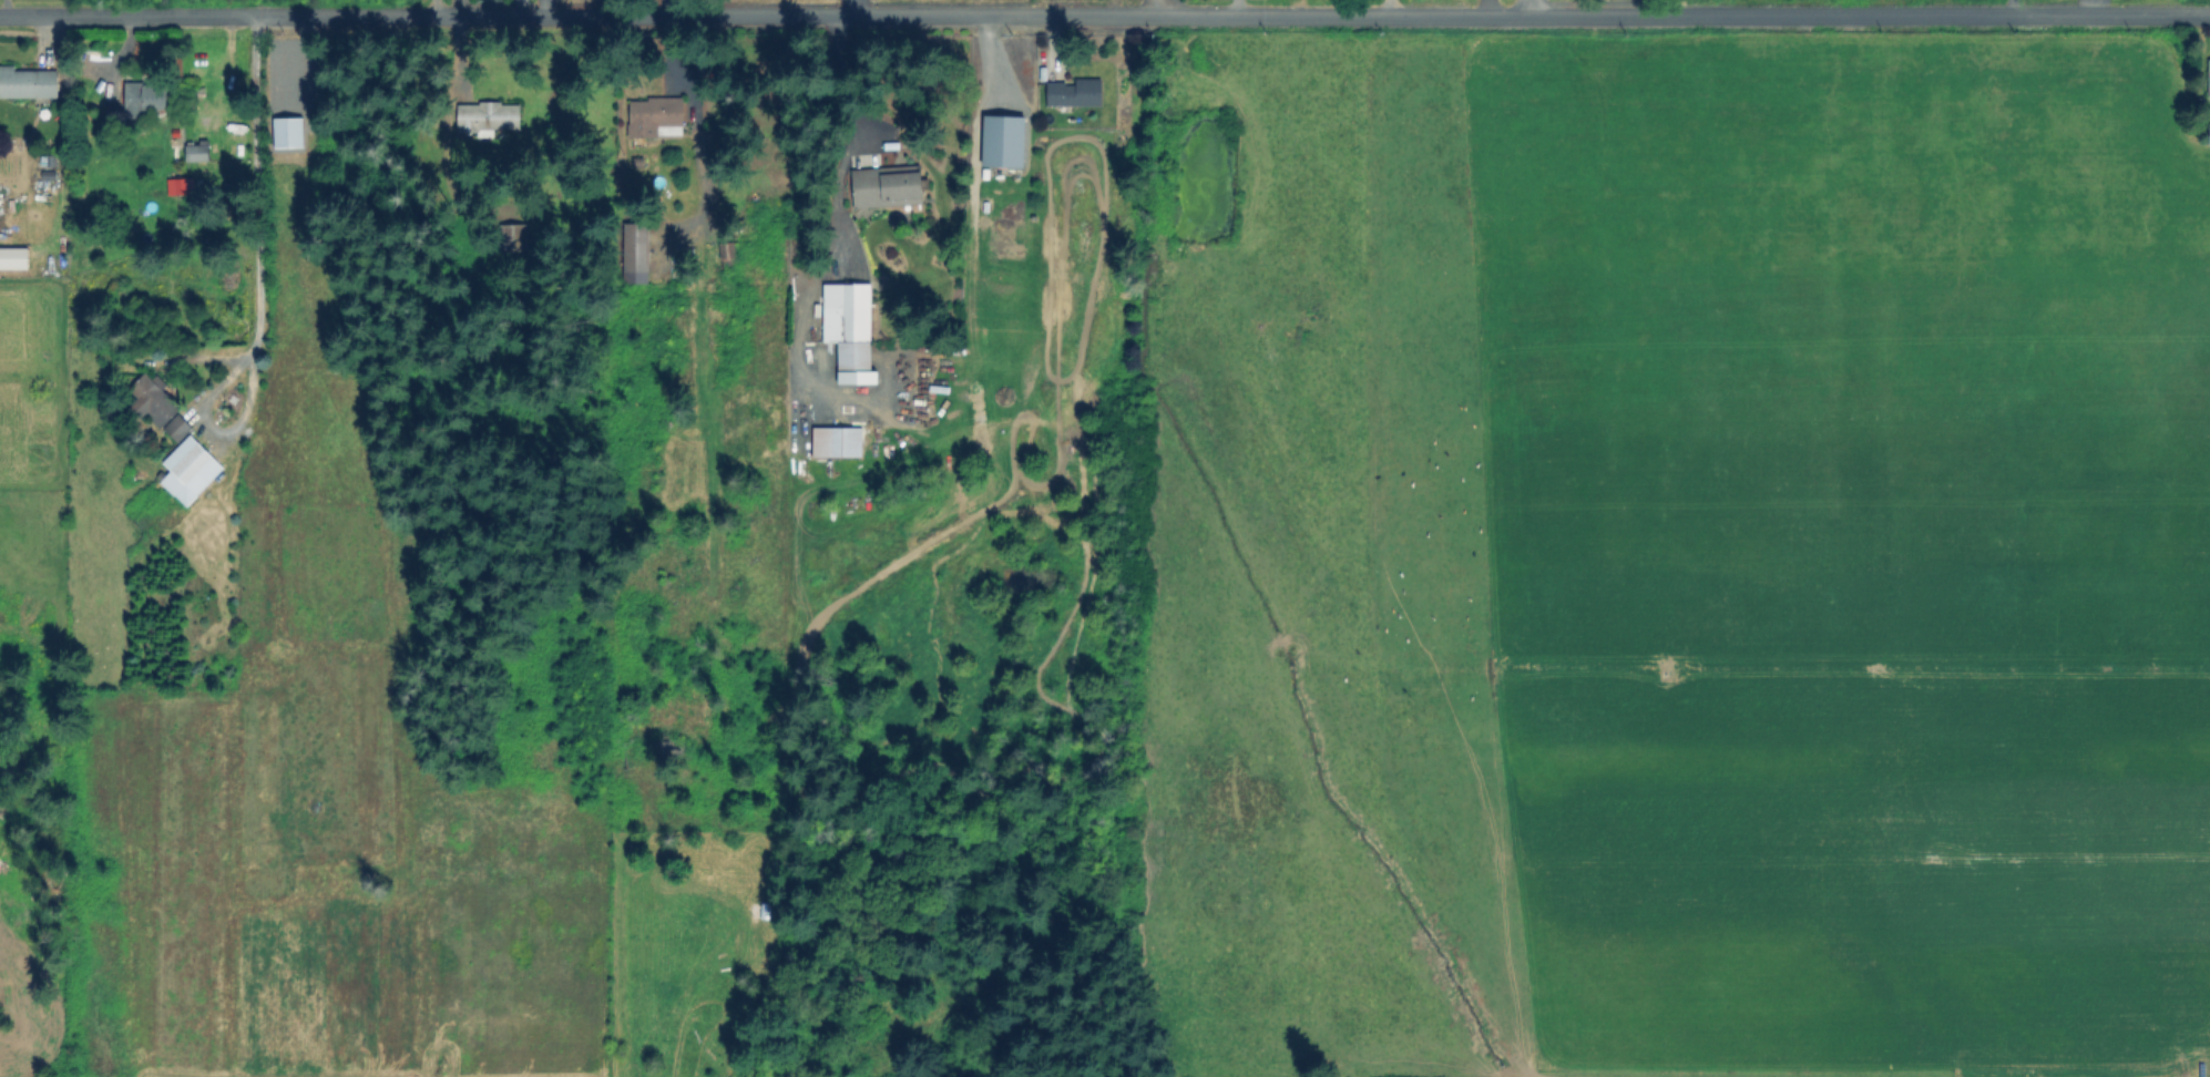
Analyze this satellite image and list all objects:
road: (432, 7)
road: (674, 7)
road: (837, 7)
road: (1140, 7)
road: (2011, 7)
road: (2088, 7)
road: (1389, 8)
road: (1536, 8)
road: (1105, 14)
building: (209, 72)
building: (2209, 72)
building: (29, 82)
building: (1078, 94)
building: (153, 98)
building: (490, 117)
building: (655, 117)
building: (211, 122)
building: (291, 132)
building: (2208, 133)
building: (1001, 140)
building: (197, 150)
building: (181, 186)
building: (888, 186)
building: (516, 236)
building: (636, 253)
building: (725, 254)
road: (256, 280)
building: (849, 324)
building: (152, 401)
building: (177, 427)
building: (838, 443)
building: (191, 470)
crop: (1667, 558)

